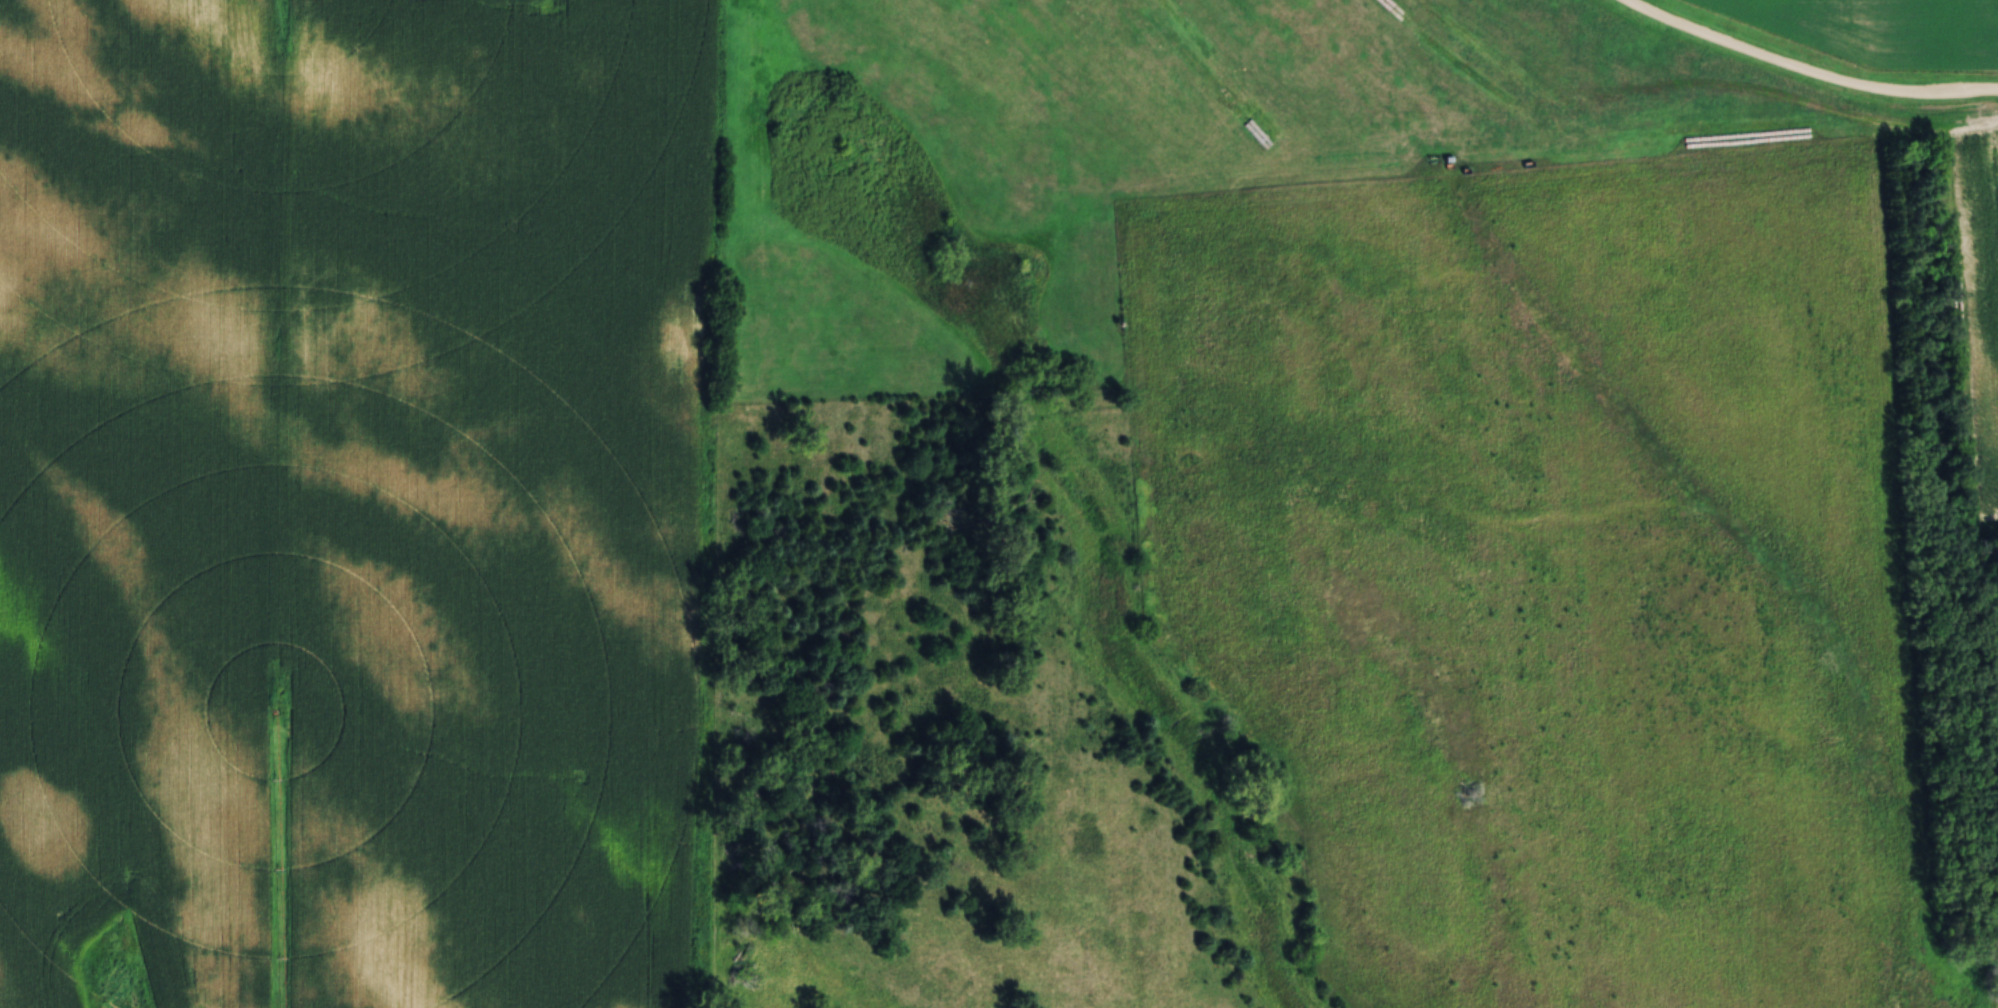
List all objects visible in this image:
road: (1806, 71)

